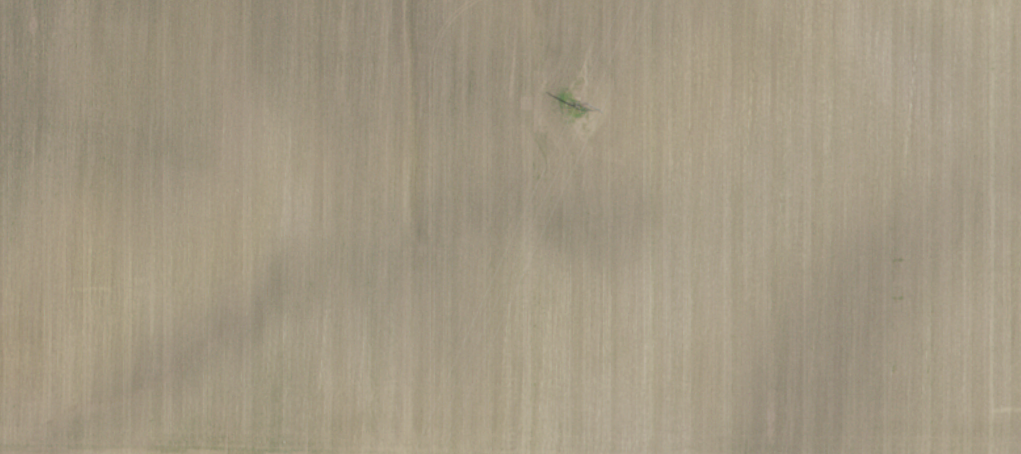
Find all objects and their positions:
power tower: (576, 111)

